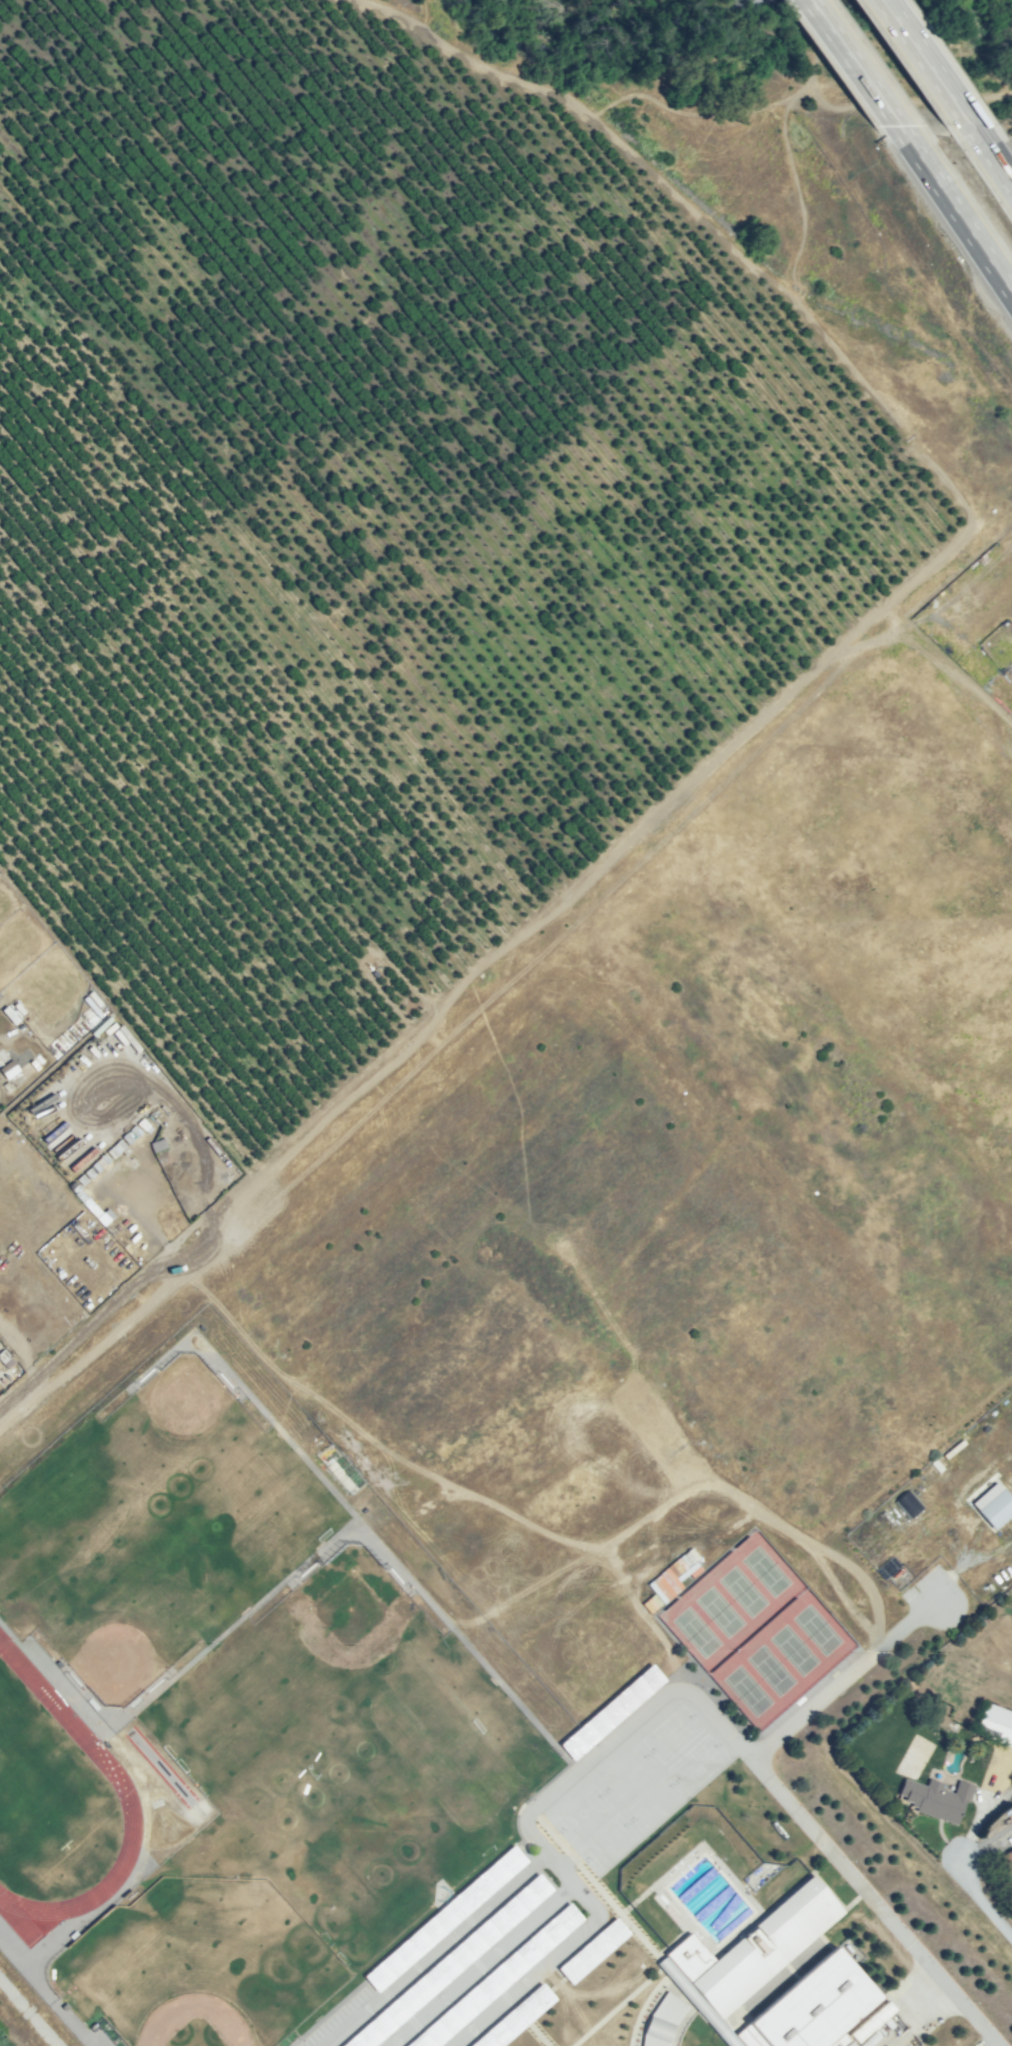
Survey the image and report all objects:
crop: (490, 57)
road: (927, 62)
road: (854, 63)
road: (666, 110)
road: (990, 157)
road: (956, 211)
building: (60, 958)
building: (91, 1005)
road: (481, 1006)
building: (18, 1008)
building: (10, 1015)
building: (59, 1043)
building: (8, 1069)
building: (7, 1086)
road: (16, 1350)
building: (2, 1356)
building: (3, 1378)
road: (17, 1390)
park: (180, 1434)
building: (906, 1505)
building: (989, 1508)
road: (379, 1552)
building: (671, 1577)
building: (650, 1603)
park: (117, 1610)
road: (224, 1631)
park: (754, 1631)
park: (345, 1675)
road: (843, 1676)
road: (64, 1687)
building: (611, 1711)
building: (994, 1724)
park: (673, 1734)
park: (698, 1762)
road: (758, 1768)
park: (627, 1775)
track: (123, 1789)
park: (35, 1797)
road: (528, 1797)
building: (936, 1798)
park: (654, 1801)
road: (534, 1813)
park: (583, 1813)
road: (985, 1841)
park: (608, 1842)
road: (532, 1855)
building: (1007, 1861)
road: (540, 1865)
road: (138, 1870)
road: (814, 1881)
road: (980, 1899)
building: (444, 1919)
road: (632, 1932)
road: (402, 1940)
building: (592, 1950)
building: (750, 1950)
road: (786, 1958)
parking lot: (469, 1959)
building: (448, 1964)
road: (479, 1966)
park: (194, 1968)
building: (496, 1978)
road: (44, 1993)
road: (643, 2007)
building: (804, 2007)
road: (617, 2008)
road: (27, 2013)
building: (514, 2018)
building: (658, 2021)
building: (870, 2021)
road: (678, 2024)
road: (530, 2029)
building: (869, 2039)
building: (842, 2044)

